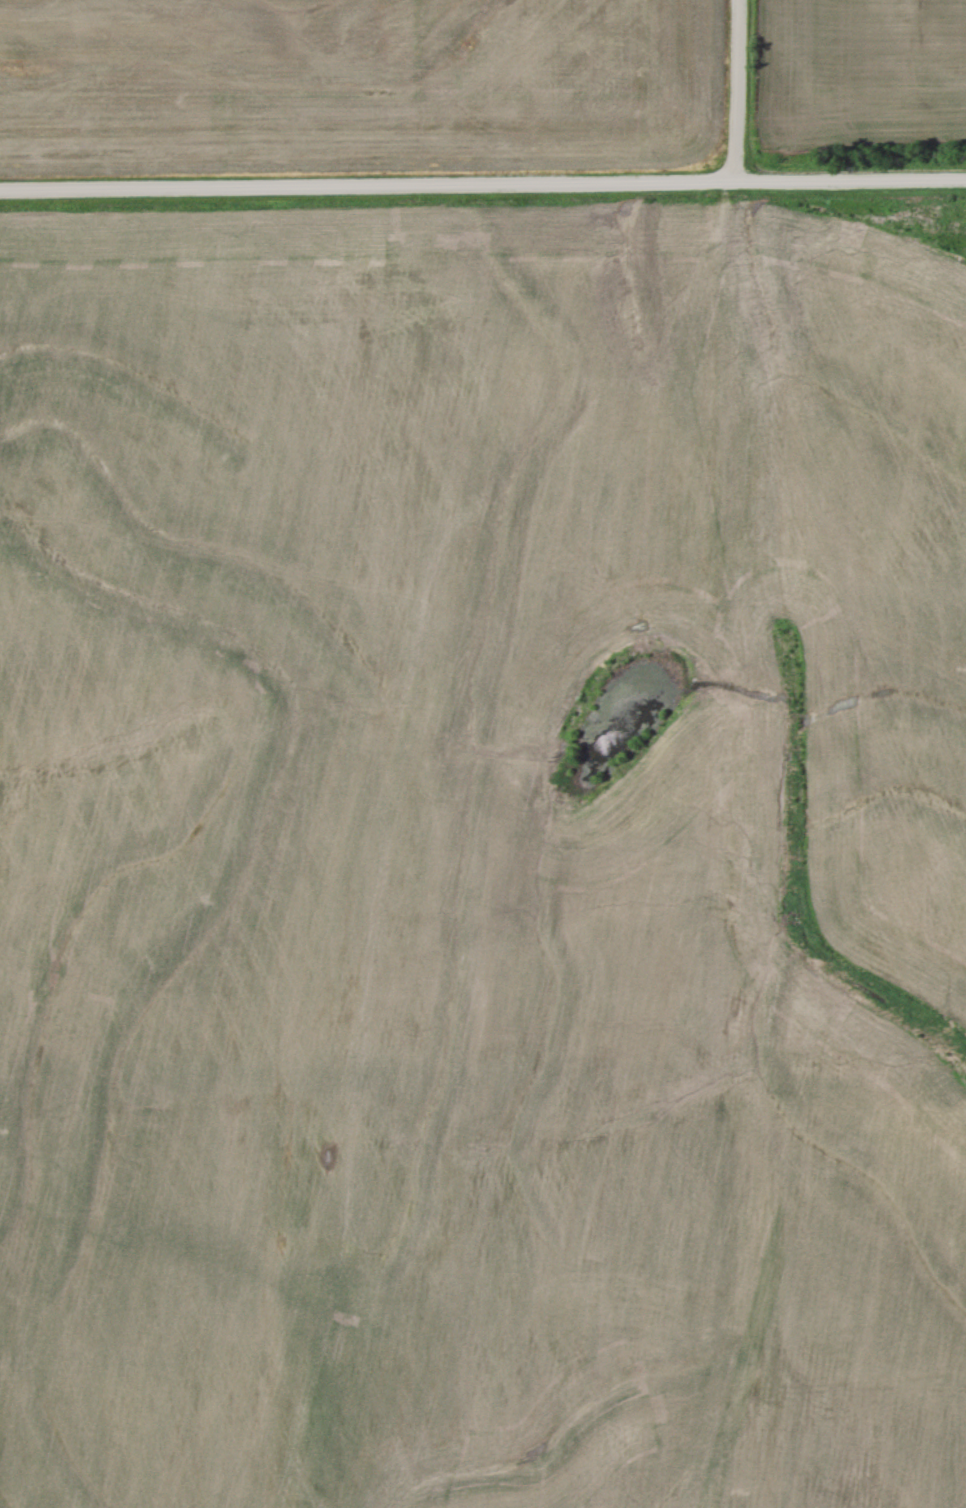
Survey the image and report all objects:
road: (736, 96)
road: (483, 196)

